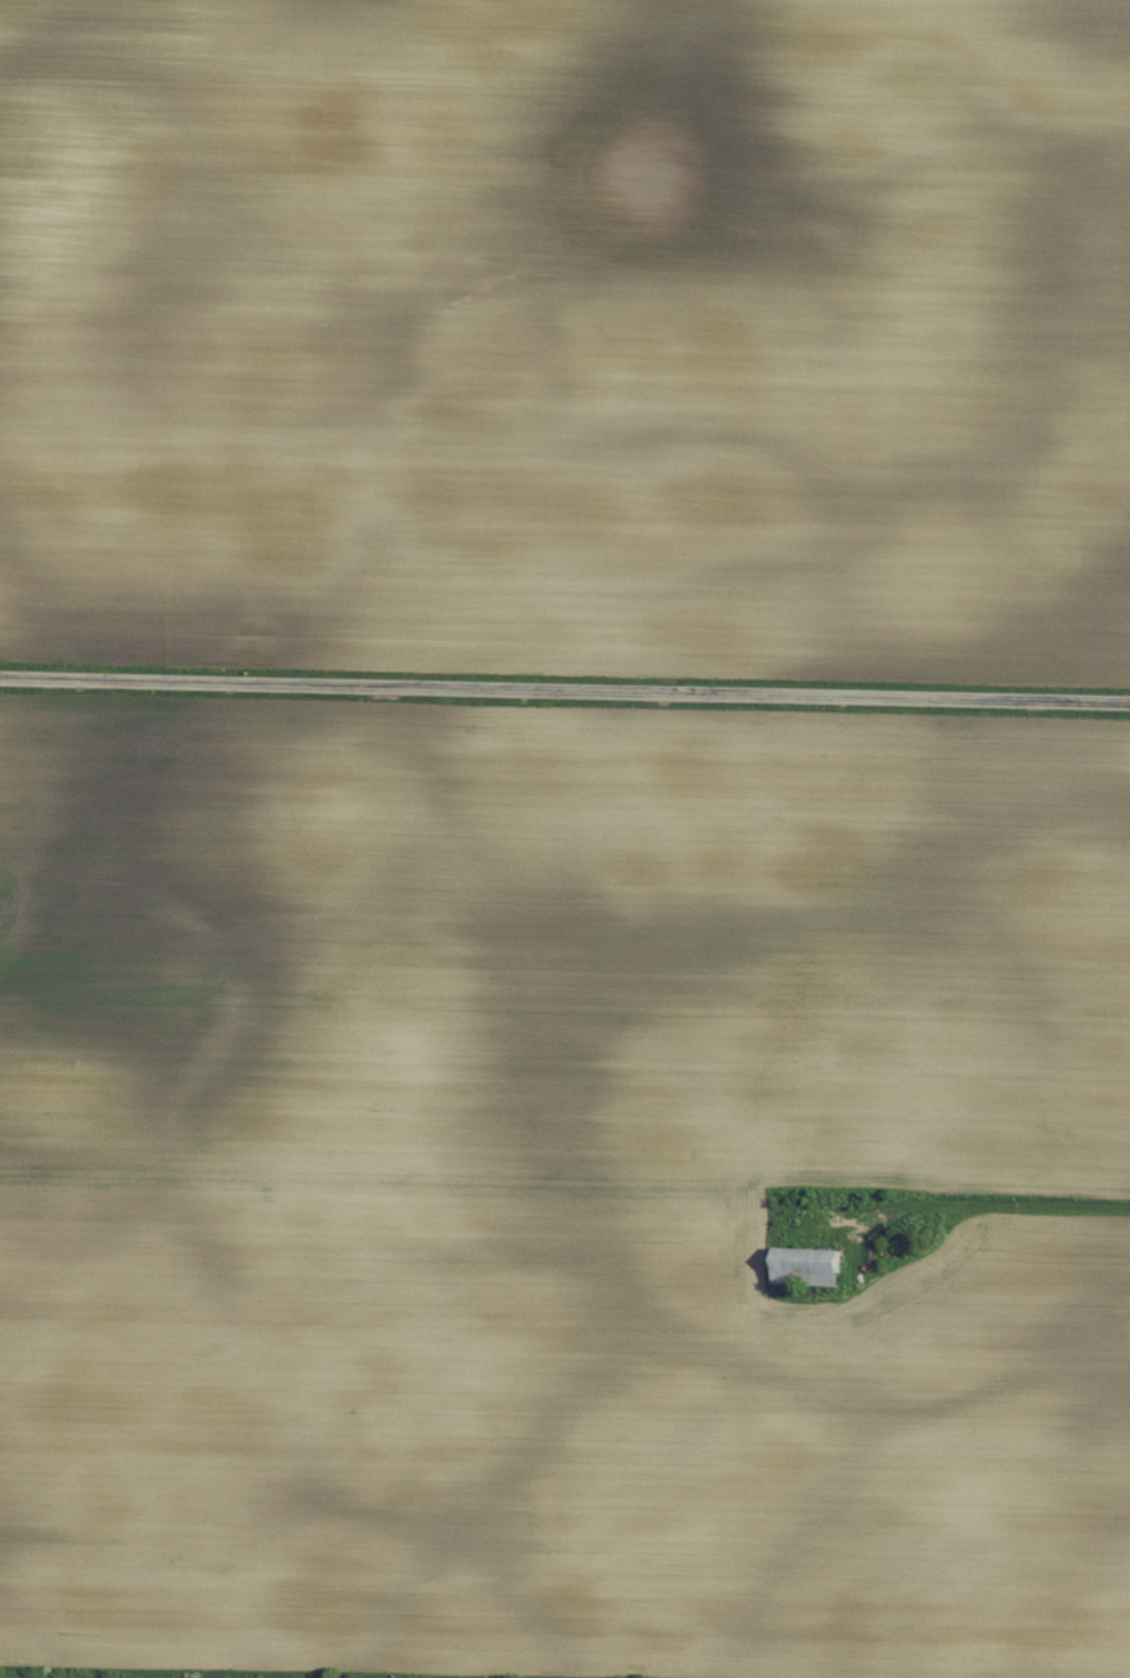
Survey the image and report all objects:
road: (564, 691)
road: (967, 1207)
building: (811, 1263)

